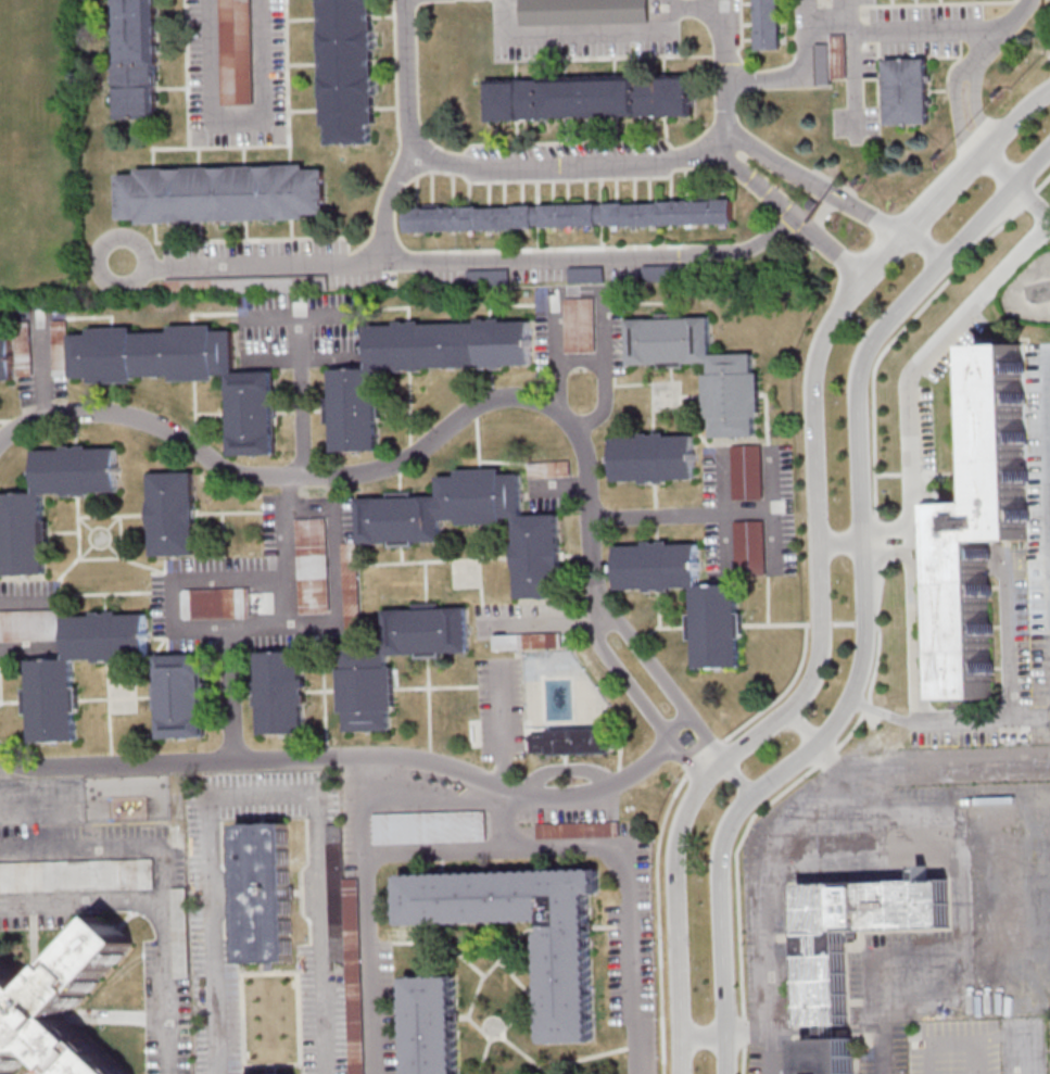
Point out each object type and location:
road: (662, 4)
road: (694, 7)
road: (852, 9)
building: (583, 12)
road: (827, 20)
building: (768, 25)
road: (923, 30)
road: (1002, 31)
road: (580, 33)
building: (236, 52)
road: (1048, 54)
building: (136, 59)
building: (347, 70)
road: (725, 74)
road: (802, 76)
road: (406, 77)
building: (907, 91)
building: (591, 97)
road: (977, 105)
road: (957, 109)
road: (239, 116)
road: (441, 159)
road: (587, 164)
road: (1000, 170)
road: (813, 181)
building: (222, 193)
road: (387, 202)
road: (1032, 206)
road: (820, 211)
road: (786, 212)
building: (569, 215)
road: (924, 250)
road: (465, 260)
building: (665, 273)
building: (585, 275)
building: (489, 277)
road: (944, 282)
building: (246, 285)
road: (598, 291)
building: (60, 348)
building: (24, 350)
building: (5, 358)
building: (417, 366)
building: (182, 372)
building: (732, 395)
road: (1047, 406)
road: (301, 422)
road: (910, 444)
building: (653, 458)
road: (384, 468)
building: (746, 471)
building: (22, 510)
building: (173, 514)
road: (706, 517)
building: (984, 520)
building: (472, 523)
road: (888, 529)
road: (775, 535)
road: (839, 543)
building: (749, 545)
road: (815, 546)
road: (888, 556)
building: (313, 565)
road: (334, 573)
road: (184, 579)
road: (864, 585)
road: (291, 591)
road: (24, 599)
building: (215, 604)
road: (540, 617)
road: (779, 623)
road: (819, 623)
road: (842, 623)
road: (865, 623)
building: (29, 624)
building: (717, 624)
building: (507, 642)
road: (1007, 643)
road: (25, 646)
building: (369, 668)
building: (51, 677)
road: (667, 680)
building: (280, 694)
building: (178, 696)
road: (641, 699)
road: (231, 705)
road: (948, 722)
road: (679, 723)
road: (800, 726)
road: (501, 731)
building: (570, 741)
road: (881, 749)
road: (830, 754)
road: (346, 758)
road: (926, 774)
road: (741, 778)
road: (258, 792)
road: (433, 794)
road: (662, 820)
building: (428, 827)
building: (577, 831)
road: (437, 851)
road: (633, 872)
building: (77, 875)
road: (160, 880)
road: (761, 883)
building: (264, 890)
road: (80, 899)
road: (963, 907)
road: (368, 915)
building: (345, 937)
road: (224, 944)
road: (308, 944)
road: (893, 948)
building: (825, 978)
building: (566, 985)
building: (59, 1006)
building: (433, 1024)
road: (768, 1031)
road: (950, 1034)
road: (703, 1037)
road: (679, 1056)
road: (728, 1056)
building: (278, 1073)

